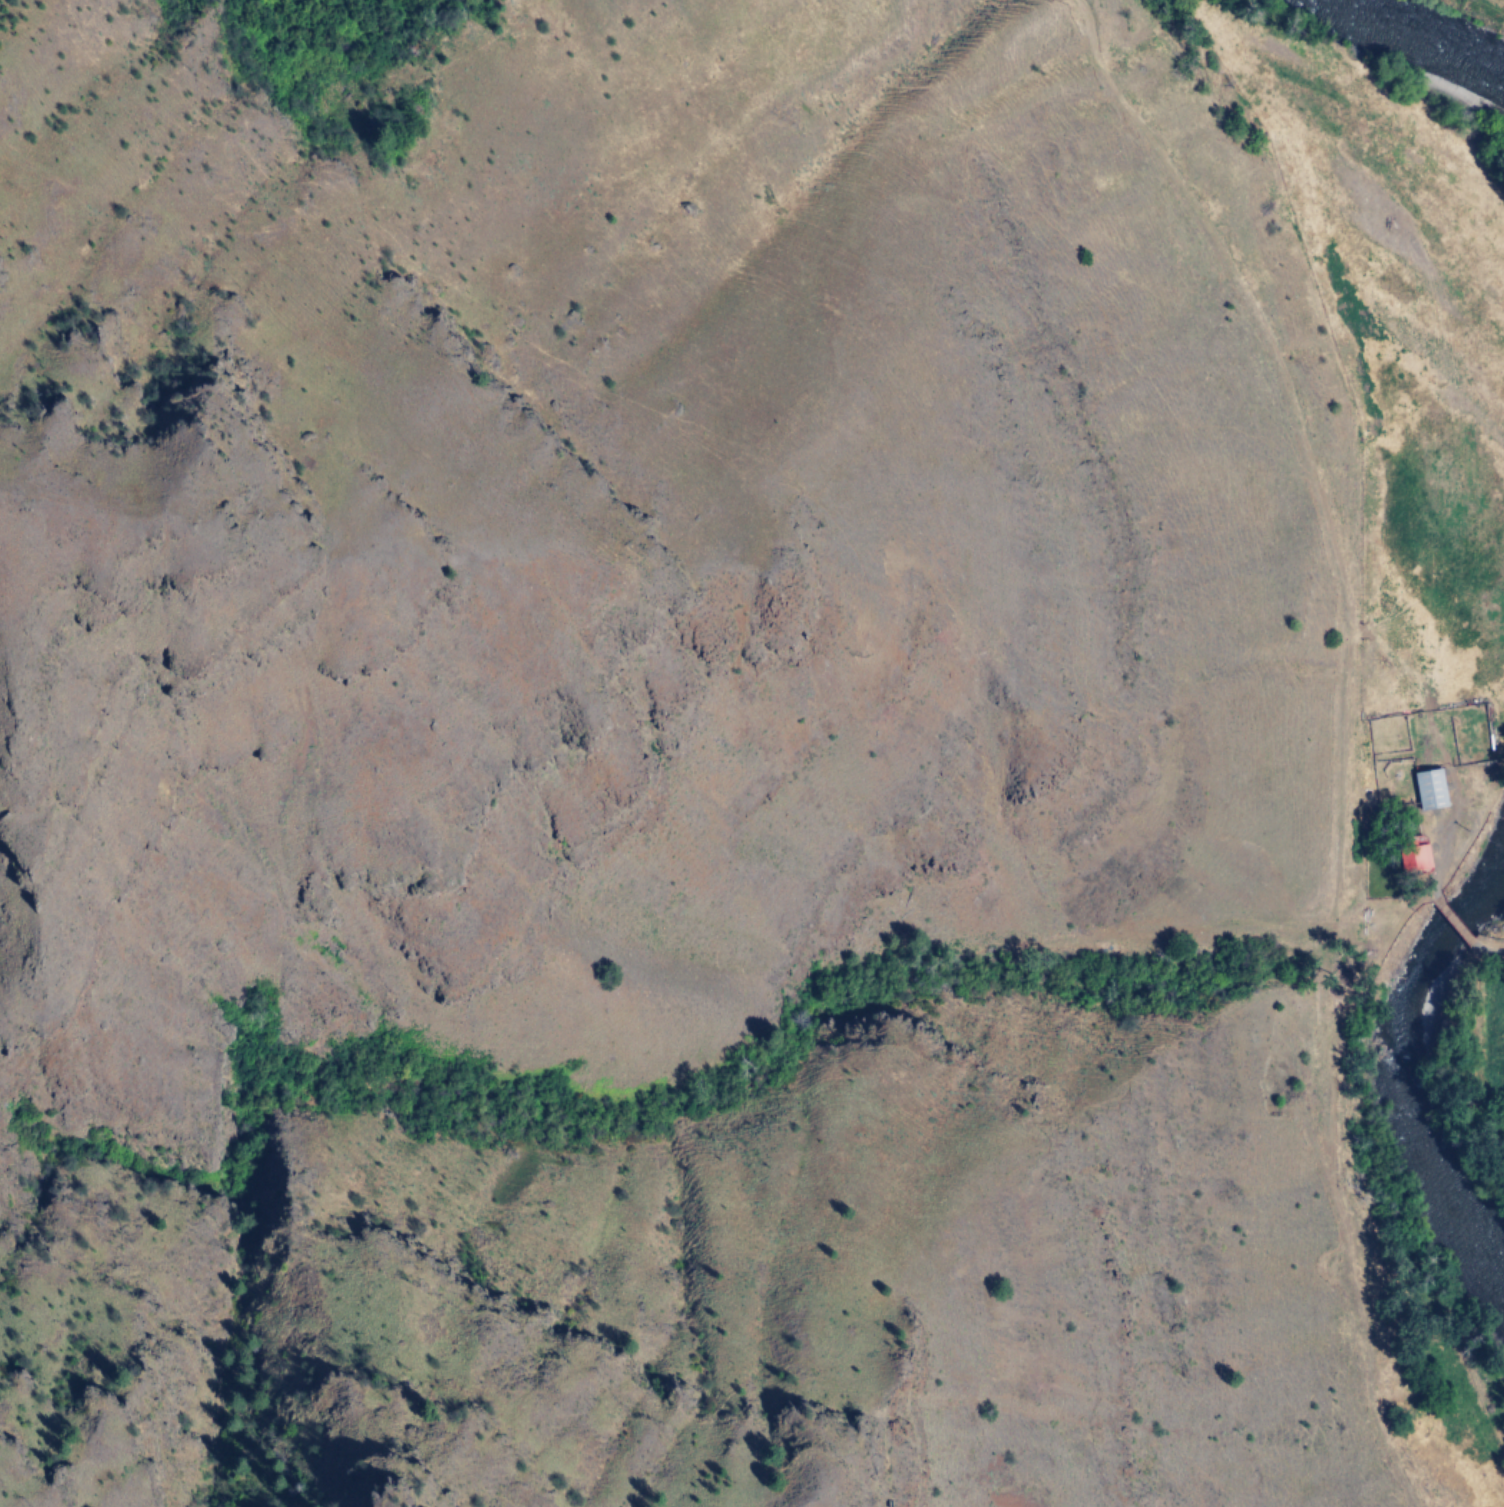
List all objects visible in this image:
river: (1402, 54)
building: (1431, 790)
river: (1381, 1126)

